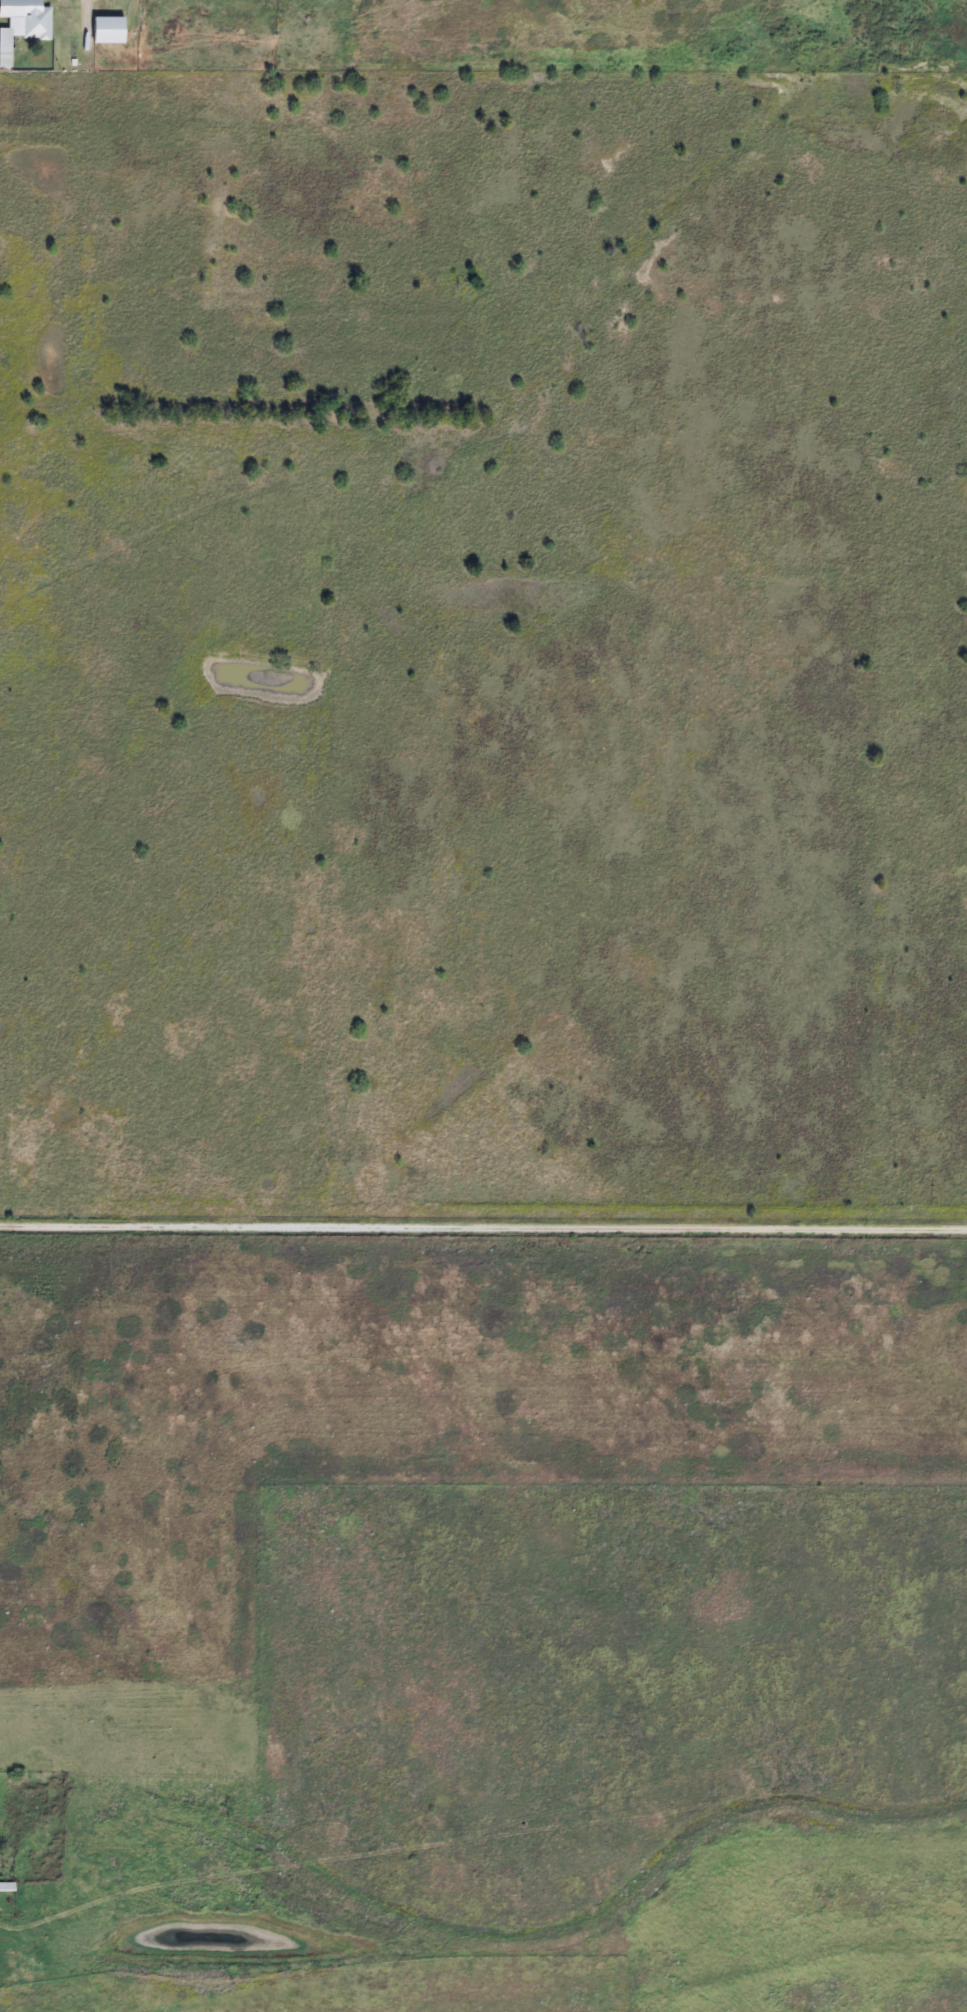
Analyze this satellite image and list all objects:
building: (26, 18)
building: (3, 47)
road: (483, 1227)
building: (5, 1886)

